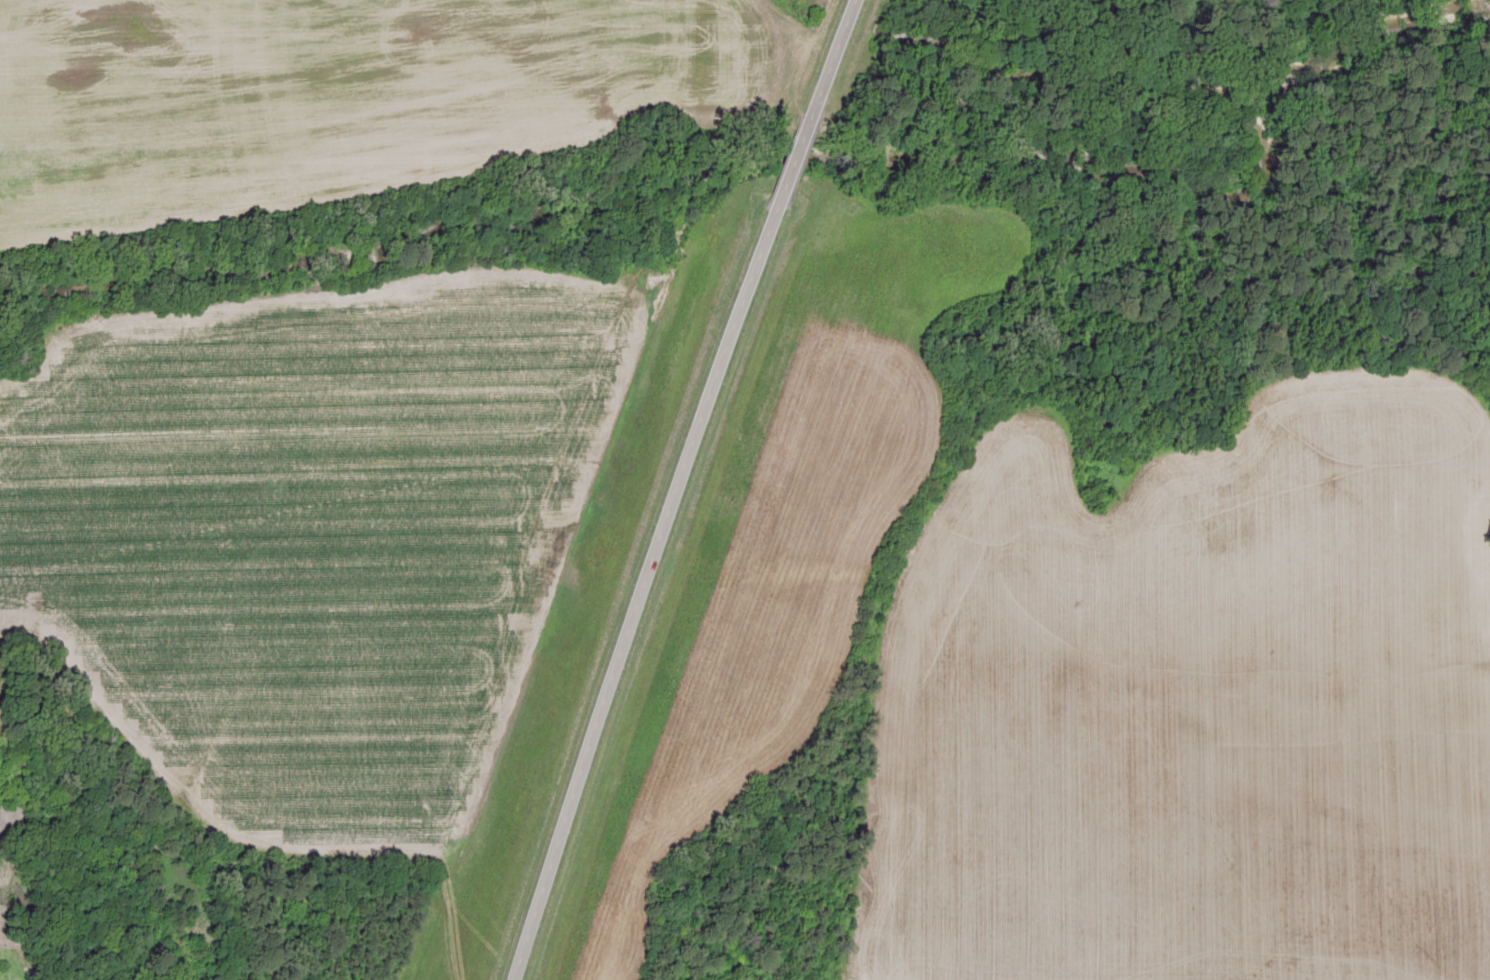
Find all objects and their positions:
road: (820, 62)
road: (780, 167)
road: (632, 594)
building: (10, 979)

